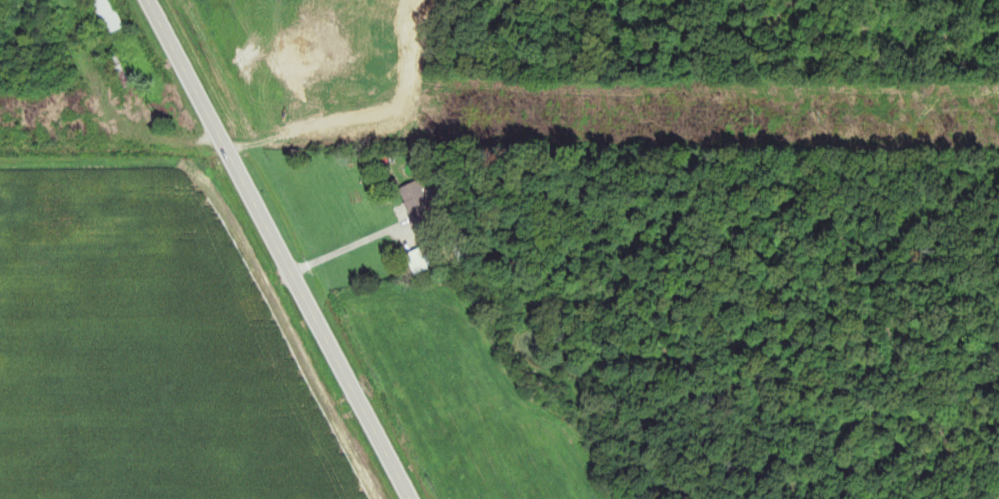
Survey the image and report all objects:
building: (107, 15)
building: (417, 210)
road: (358, 242)
road: (274, 250)

